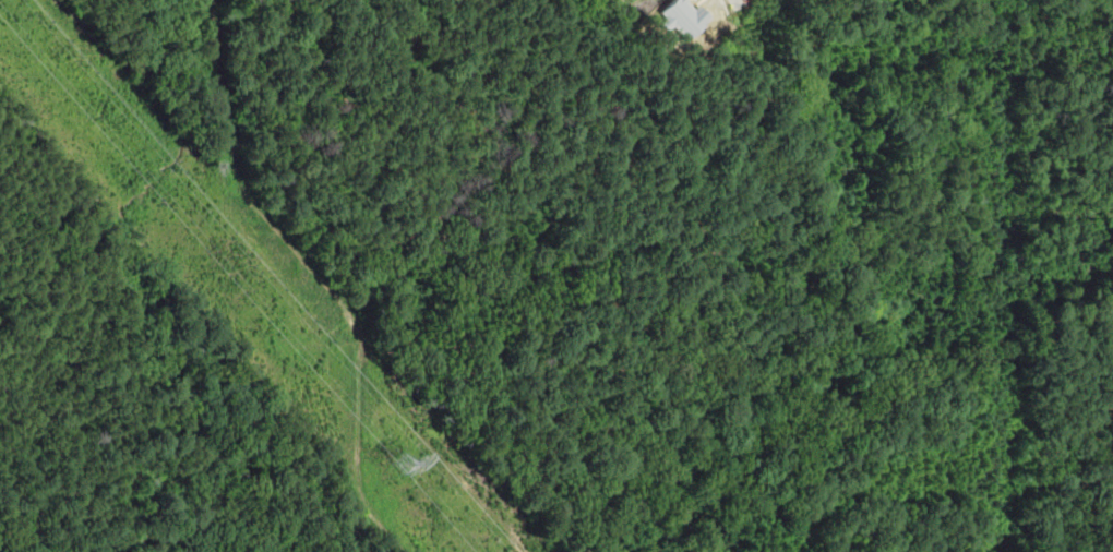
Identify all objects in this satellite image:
road: (741, 2)
road: (726, 5)
power tower: (400, 465)

